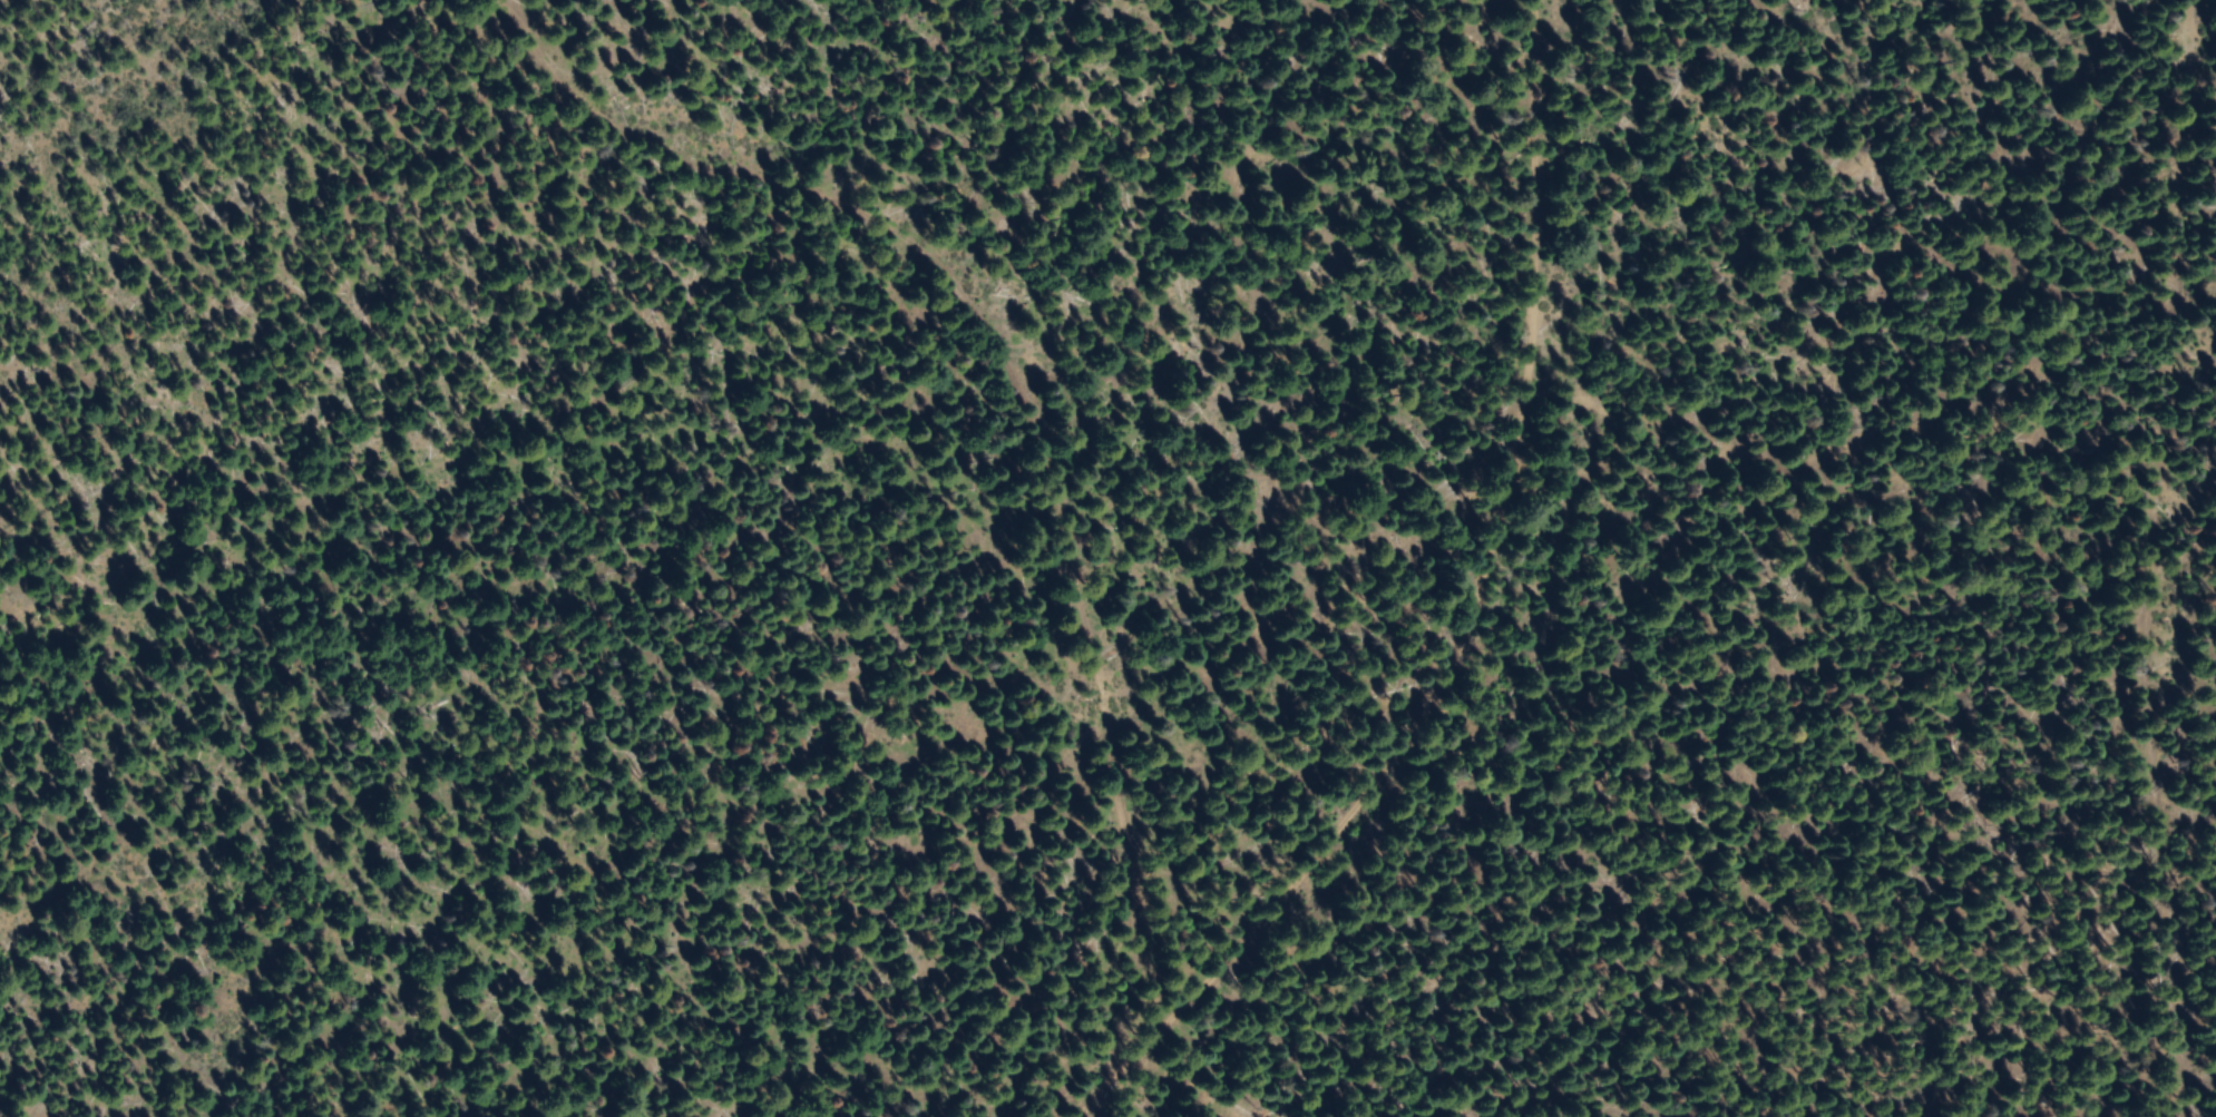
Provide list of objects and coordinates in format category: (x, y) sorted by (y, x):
road: (1513, 572)

